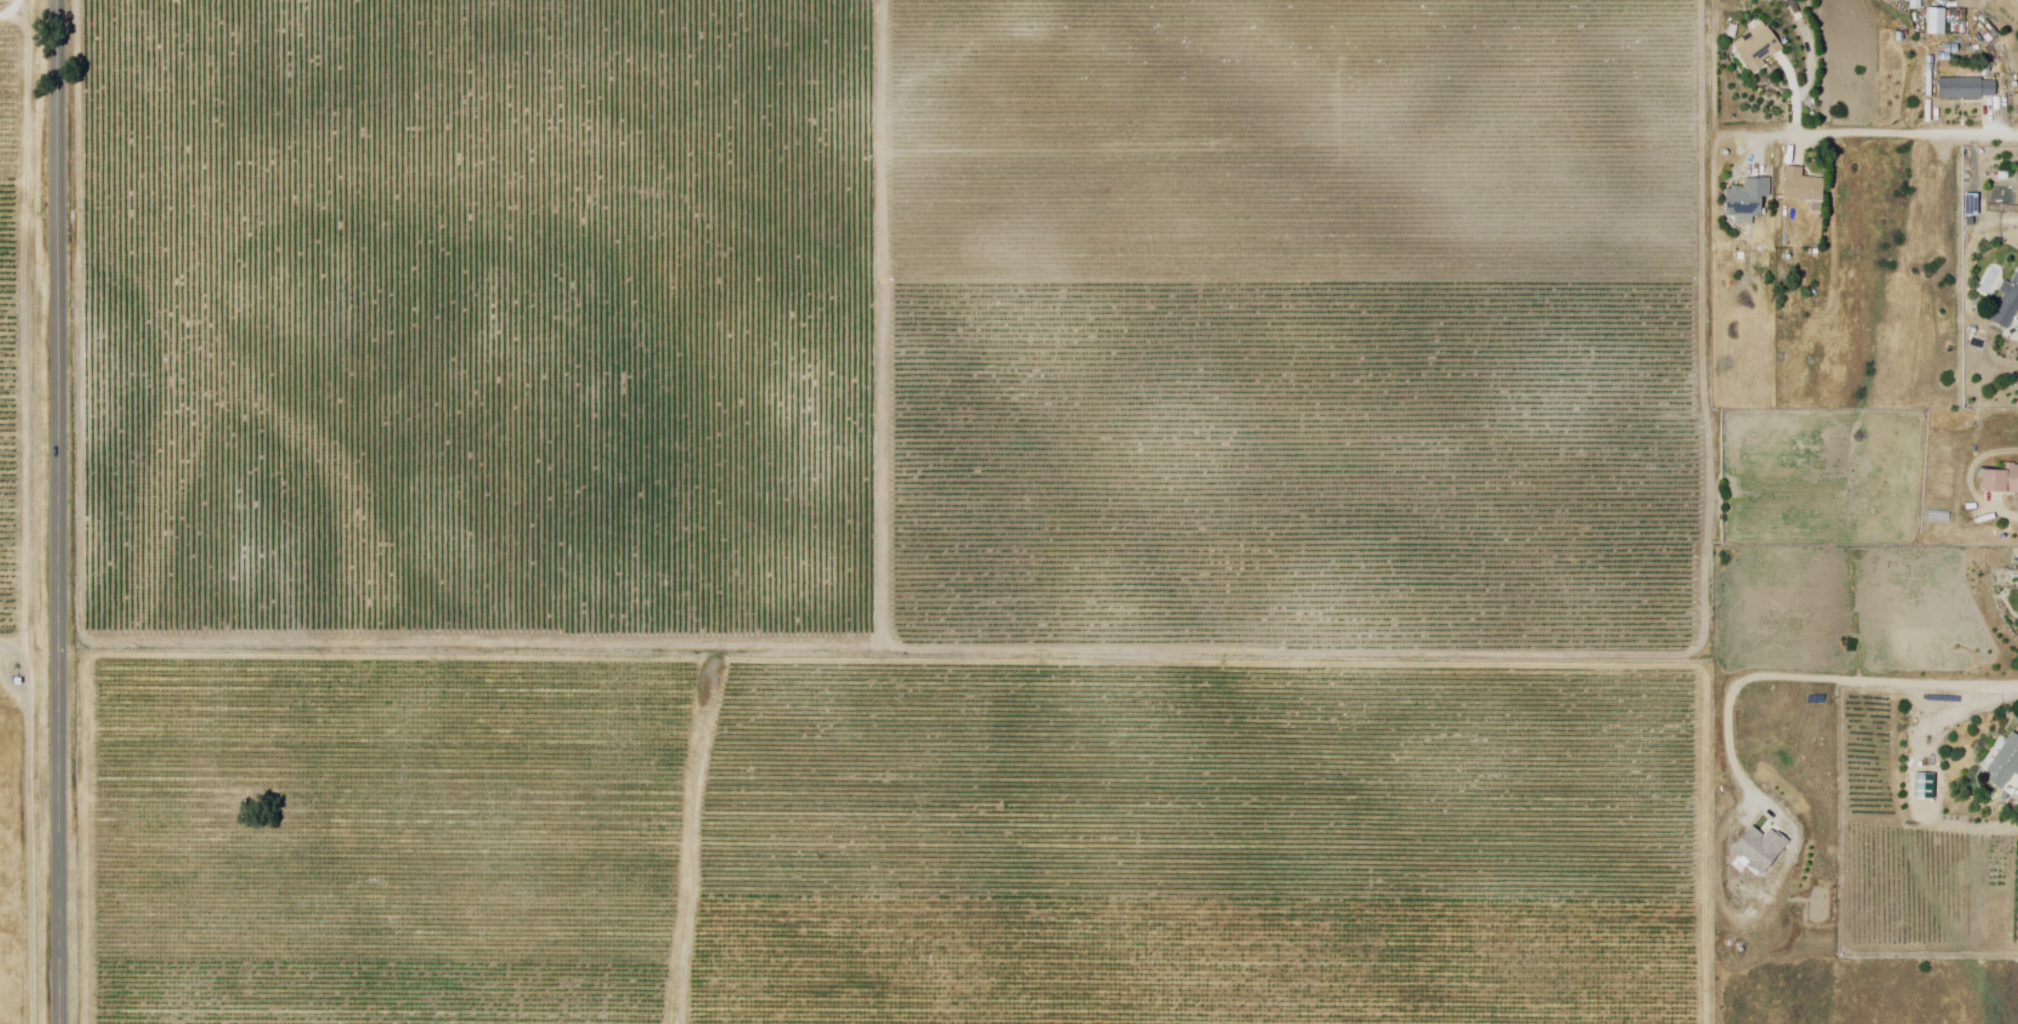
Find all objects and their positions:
building: (1939, 24)
building: (1758, 48)
building: (1966, 91)
road: (1797, 94)
road: (1864, 135)
road: (1763, 150)
building: (1750, 202)
building: (1807, 206)
road: (1837, 274)
building: (2007, 311)
road: (883, 324)
building: (2002, 484)
road: (2009, 510)
road: (56, 511)
road: (164, 642)
road: (1622, 656)
road: (1806, 678)
building: (2005, 763)
building: (1762, 847)

